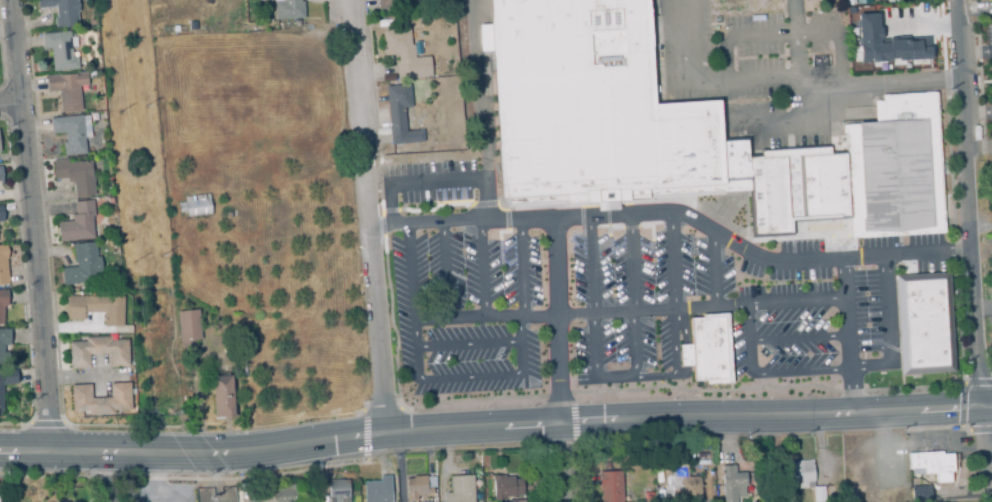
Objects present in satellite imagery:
building: (862, 1)
building: (388, 2)
building: (850, 2)
building: (288, 9)
building: (61, 11)
road: (925, 28)
parking lot: (986, 37)
road: (795, 40)
building: (887, 42)
building: (59, 49)
building: (404, 54)
parking lot: (784, 70)
road: (780, 81)
building: (66, 89)
road: (8, 100)
power tower: (144, 105)
power tower: (118, 111)
road: (480, 111)
building: (399, 115)
road: (978, 118)
parking lot: (986, 122)
building: (679, 123)
building: (69, 133)
road: (979, 149)
building: (0, 175)
building: (75, 175)
road: (416, 184)
road: (969, 203)
building: (195, 205)
building: (1, 214)
road: (676, 214)
road: (367, 215)
building: (77, 222)
road: (31, 224)
road: (981, 226)
power tower: (160, 253)
power tower: (133, 258)
building: (3, 264)
building: (83, 265)
road: (714, 268)
road: (483, 270)
road: (446, 272)
building: (991, 274)
parking lot: (617, 290)
road: (521, 296)
road: (632, 296)
road: (798, 298)
road: (413, 302)
parking lot: (989, 302)
building: (2, 303)
building: (93, 307)
road: (582, 312)
road: (557, 321)
building: (925, 322)
building: (188, 327)
road: (849, 335)
road: (799, 337)
building: (3, 339)
road: (469, 344)
building: (708, 348)
building: (98, 351)
road: (839, 368)
building: (8, 376)
road: (471, 376)
road: (636, 377)
building: (0, 393)
building: (221, 396)
building: (101, 398)
road: (988, 405)
traffic signals: (984, 406)
power tower: (147, 410)
power tower: (171, 411)
road: (984, 419)
road: (491, 425)
road: (988, 431)
road: (561, 462)
building: (937, 465)
road: (400, 466)
road: (985, 467)
building: (800, 472)
road: (122, 476)
road: (153, 482)
building: (681, 483)
building: (733, 484)
power tower: (234, 487)
building: (611, 487)
building: (419, 488)
building: (506, 488)
building: (461, 489)
building: (377, 490)
building: (338, 491)
building: (287, 494)
building: (819, 494)
building: (922, 494)
power tower: (207, 499)

